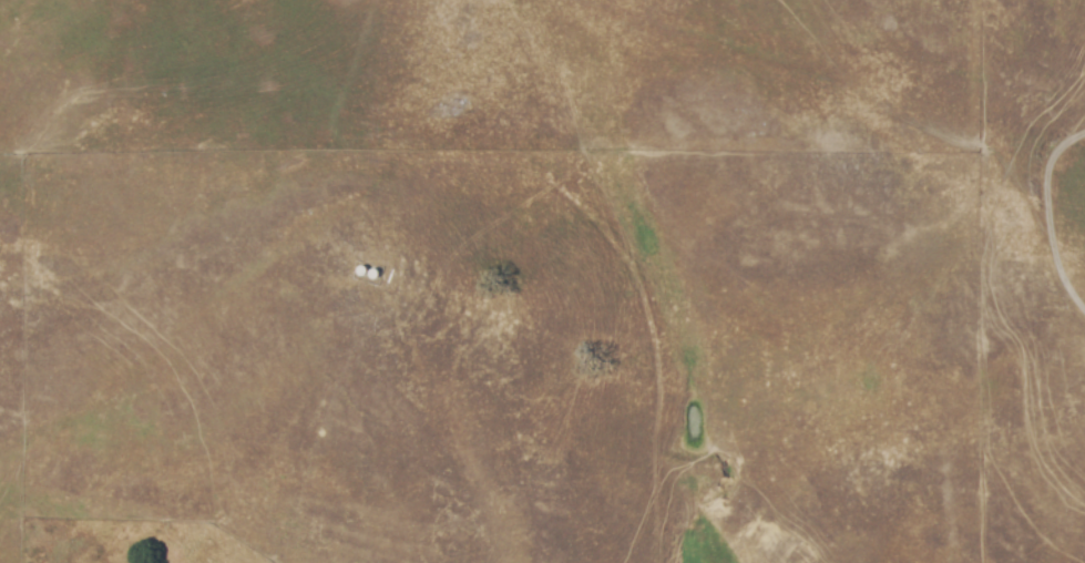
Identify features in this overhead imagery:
road: (1047, 215)

